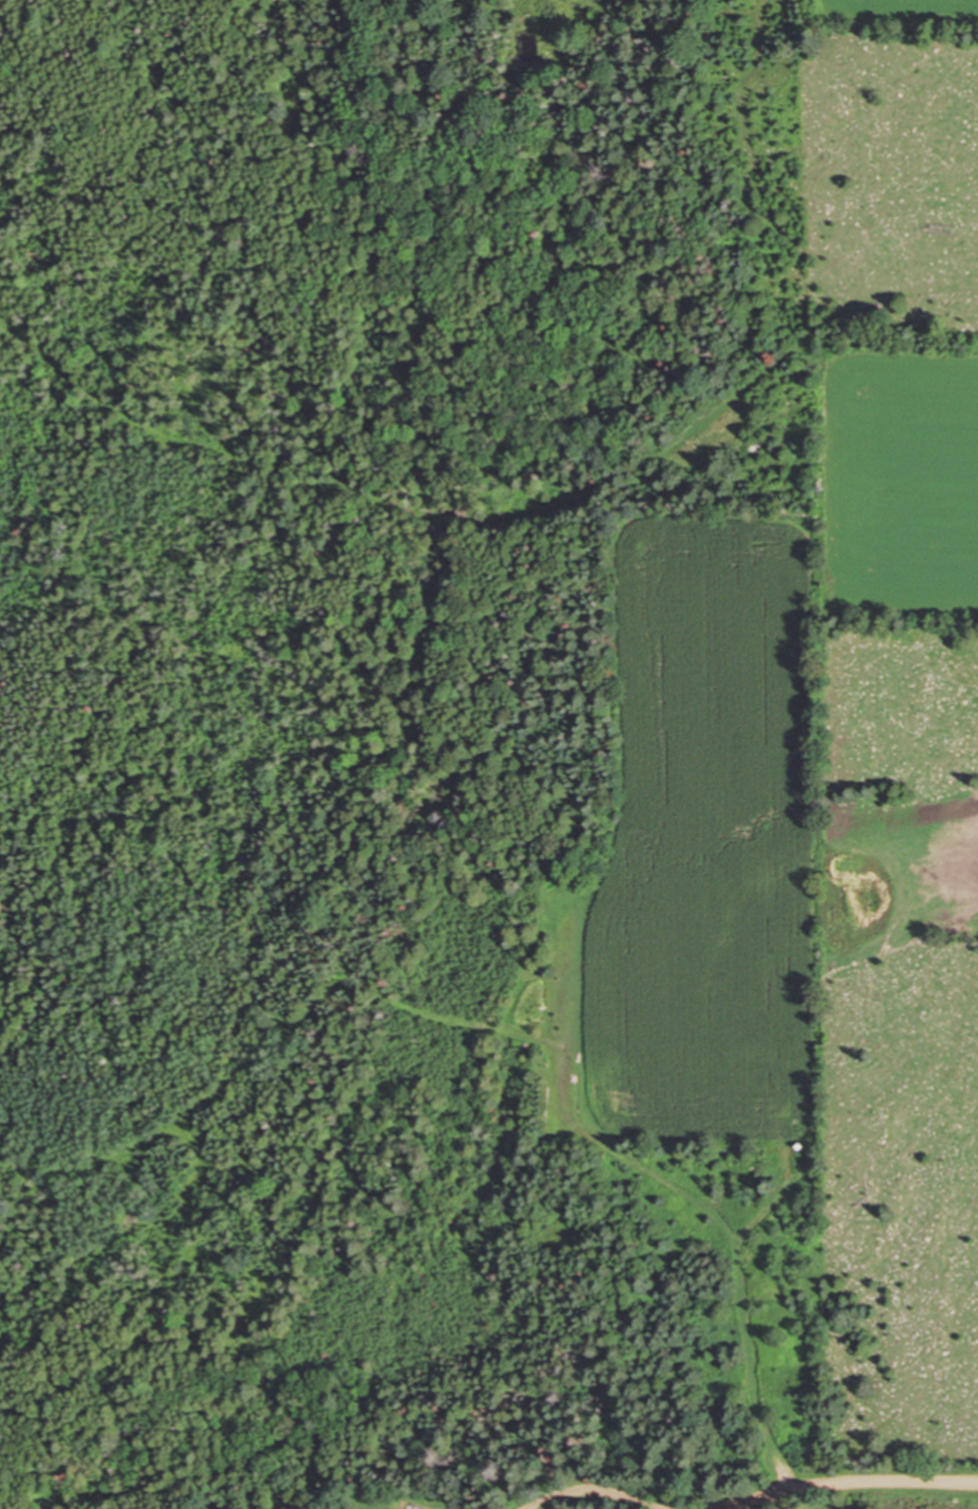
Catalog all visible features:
road: (859, 1483)

